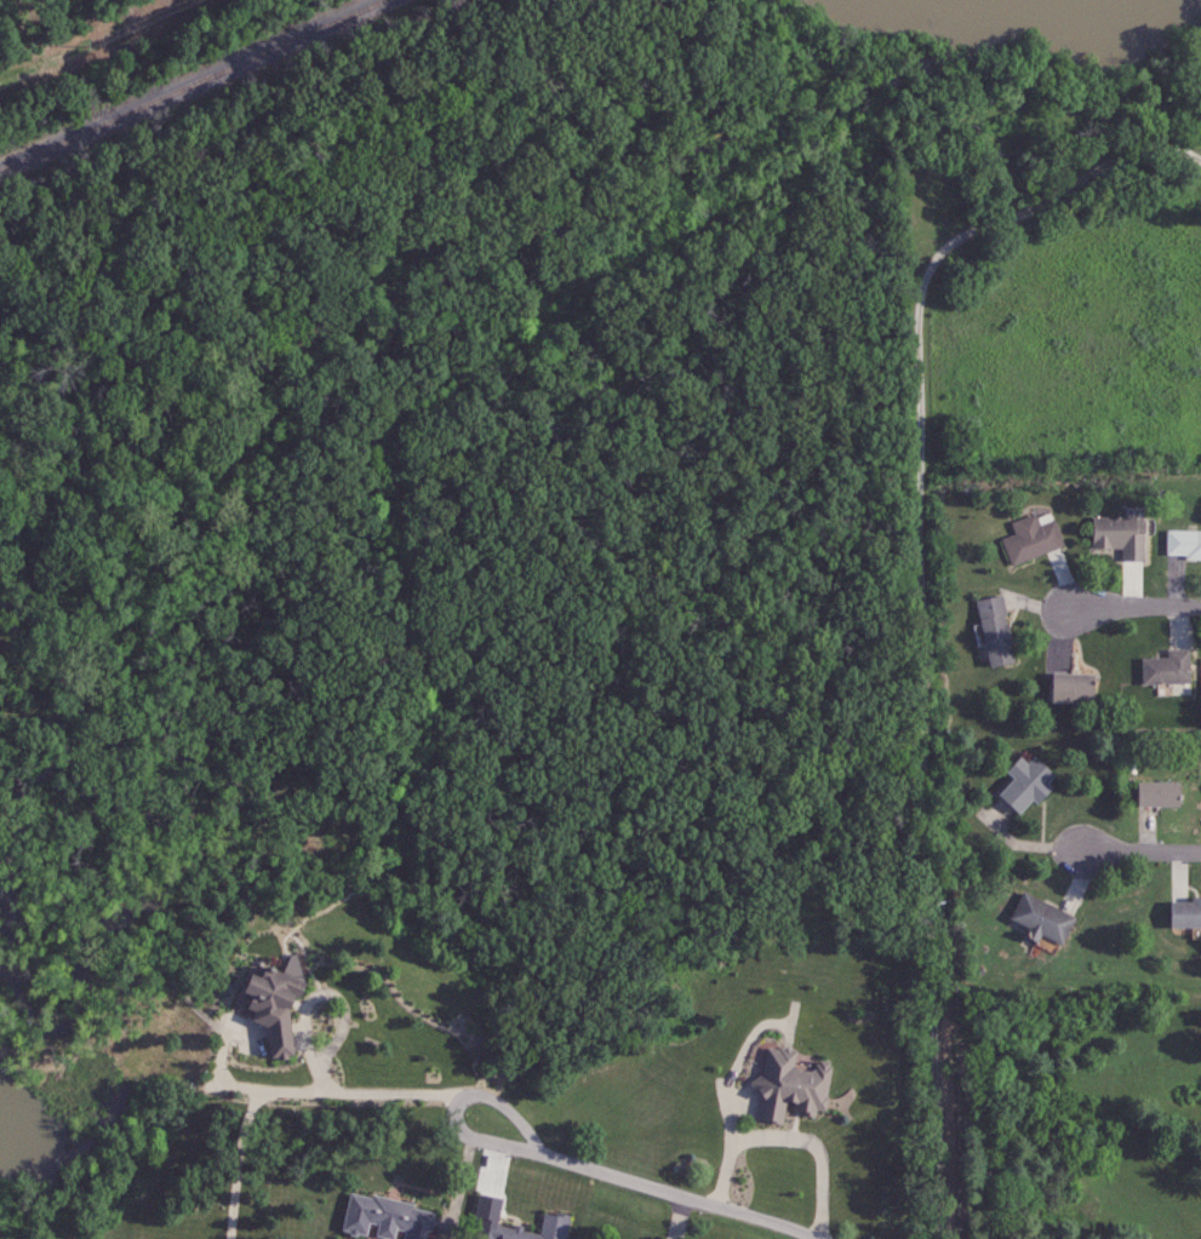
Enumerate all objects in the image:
railway: (190, 84)
building: (1120, 535)
building: (1031, 538)
building: (1183, 544)
road: (920, 596)
road: (1134, 608)
building: (995, 631)
building: (1166, 667)
building: (1071, 687)
building: (1025, 784)
building: (1156, 795)
road: (1140, 850)
building: (1184, 913)
building: (1042, 918)
road: (315, 996)
building: (273, 1003)
building: (789, 1085)
road: (287, 1091)
road: (458, 1102)
road: (787, 1134)
road: (680, 1195)
building: (485, 1217)
building: (385, 1218)

